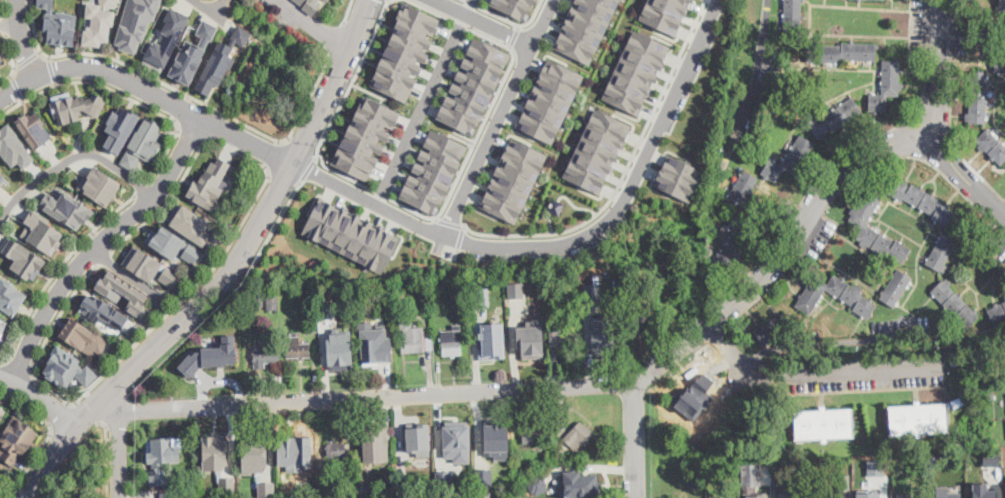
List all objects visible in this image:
building: (300, 1)
road: (217, 5)
building: (311, 5)
building: (1002, 5)
road: (468, 6)
building: (512, 7)
road: (3, 8)
road: (209, 8)
road: (349, 10)
road: (439, 13)
building: (663, 13)
road: (508, 19)
road: (484, 21)
road: (9, 22)
building: (99, 22)
building: (792, 22)
building: (58, 23)
building: (136, 23)
road: (315, 23)
road: (5, 24)
building: (582, 27)
road: (513, 34)
road: (23, 38)
building: (167, 39)
road: (339, 39)
road: (928, 45)
building: (841, 52)
building: (192, 53)
building: (406, 53)
building: (1, 59)
building: (221, 60)
road: (14, 62)
road: (29, 63)
building: (999, 63)
road: (139, 68)
road: (54, 71)
building: (633, 71)
road: (938, 71)
building: (467, 83)
road: (20, 86)
building: (886, 86)
road: (117, 90)
road: (148, 90)
building: (978, 97)
building: (547, 100)
road: (308, 102)
building: (733, 104)
building: (77, 107)
road: (183, 108)
road: (420, 108)
road: (487, 111)
road: (497, 117)
building: (835, 117)
road: (221, 126)
building: (120, 127)
building: (35, 128)
building: (363, 136)
road: (189, 137)
road: (323, 142)
building: (143, 143)
building: (992, 145)
building: (13, 146)
road: (302, 148)
building: (594, 149)
road: (272, 152)
road: (70, 158)
road: (722, 158)
building: (788, 161)
building: (426, 167)
road: (309, 169)
road: (624, 170)
building: (674, 173)
building: (2, 174)
road: (283, 174)
road: (960, 175)
building: (511, 178)
building: (209, 185)
building: (100, 186)
road: (144, 186)
road: (627, 187)
building: (743, 189)
road: (369, 200)
building: (921, 201)
building: (553, 204)
road: (574, 204)
building: (67, 208)
road: (249, 214)
road: (549, 221)
road: (450, 224)
building: (195, 226)
building: (864, 226)
road: (271, 229)
building: (42, 231)
building: (348, 232)
road: (461, 238)
building: (734, 242)
road: (98, 243)
building: (172, 244)
building: (941, 252)
road: (105, 254)
building: (24, 258)
building: (146, 267)
road: (57, 272)
road: (127, 275)
road: (231, 275)
building: (574, 279)
building: (607, 281)
building: (896, 288)
building: (349, 289)
building: (515, 289)
building: (121, 290)
building: (460, 290)
building: (592, 291)
building: (10, 295)
building: (423, 297)
road: (738, 297)
building: (851, 297)
building: (1004, 298)
building: (259, 300)
building: (272, 303)
building: (955, 304)
building: (246, 305)
building: (476, 306)
building: (328, 310)
building: (103, 311)
road: (153, 311)
building: (998, 313)
building: (640, 318)
building: (311, 320)
building: (2, 325)
building: (773, 329)
road: (47, 333)
building: (84, 336)
building: (602, 337)
building: (414, 338)
building: (531, 338)
building: (562, 339)
building: (492, 340)
building: (452, 341)
building: (374, 342)
building: (297, 348)
road: (730, 350)
building: (342, 351)
building: (554, 353)
building: (211, 355)
building: (266, 355)
road: (21, 362)
building: (68, 368)
road: (845, 371)
parking lot: (869, 373)
building: (990, 396)
road: (378, 397)
road: (39, 398)
building: (957, 402)
building: (693, 408)
road: (86, 411)
building: (2, 412)
road: (59, 414)
building: (918, 419)
building: (823, 424)
building: (561, 428)
road: (46, 435)
building: (532, 435)
building: (578, 435)
building: (418, 438)
building: (16, 439)
building: (496, 440)
building: (457, 441)
road: (120, 445)
building: (293, 448)
building: (374, 449)
building: (336, 450)
road: (105, 454)
building: (217, 455)
building: (161, 457)
building: (255, 458)
building: (875, 467)
building: (751, 474)
building: (483, 476)
building: (462, 478)
building: (443, 479)
building: (194, 481)
building: (844, 481)
building: (226, 483)
building: (281, 483)
building: (207, 484)
building: (538, 484)
building: (578, 484)
building: (403, 486)
building: (364, 488)
building: (376, 489)
building: (265, 490)
building: (335, 490)
building: (983, 490)
building: (946, 493)
building: (166, 494)
building: (282, 494)
building: (484, 494)
building: (868, 494)
building: (233, 495)
building: (758, 495)
building: (783, 495)
building: (833, 495)
building: (910, 495)
building: (404, 496)
building: (464, 496)
building: (715, 496)

